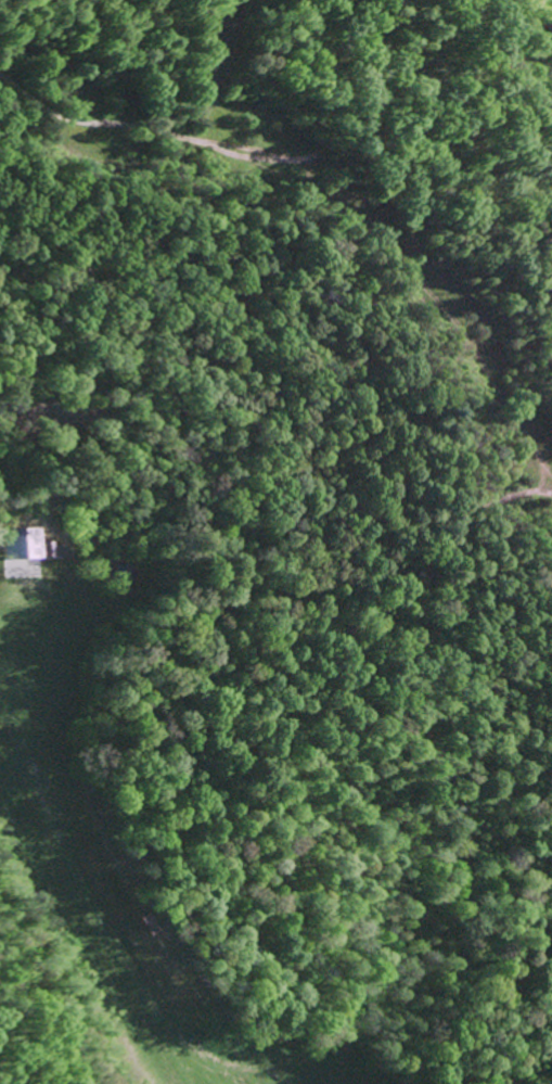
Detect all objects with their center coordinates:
building: (34, 544)

